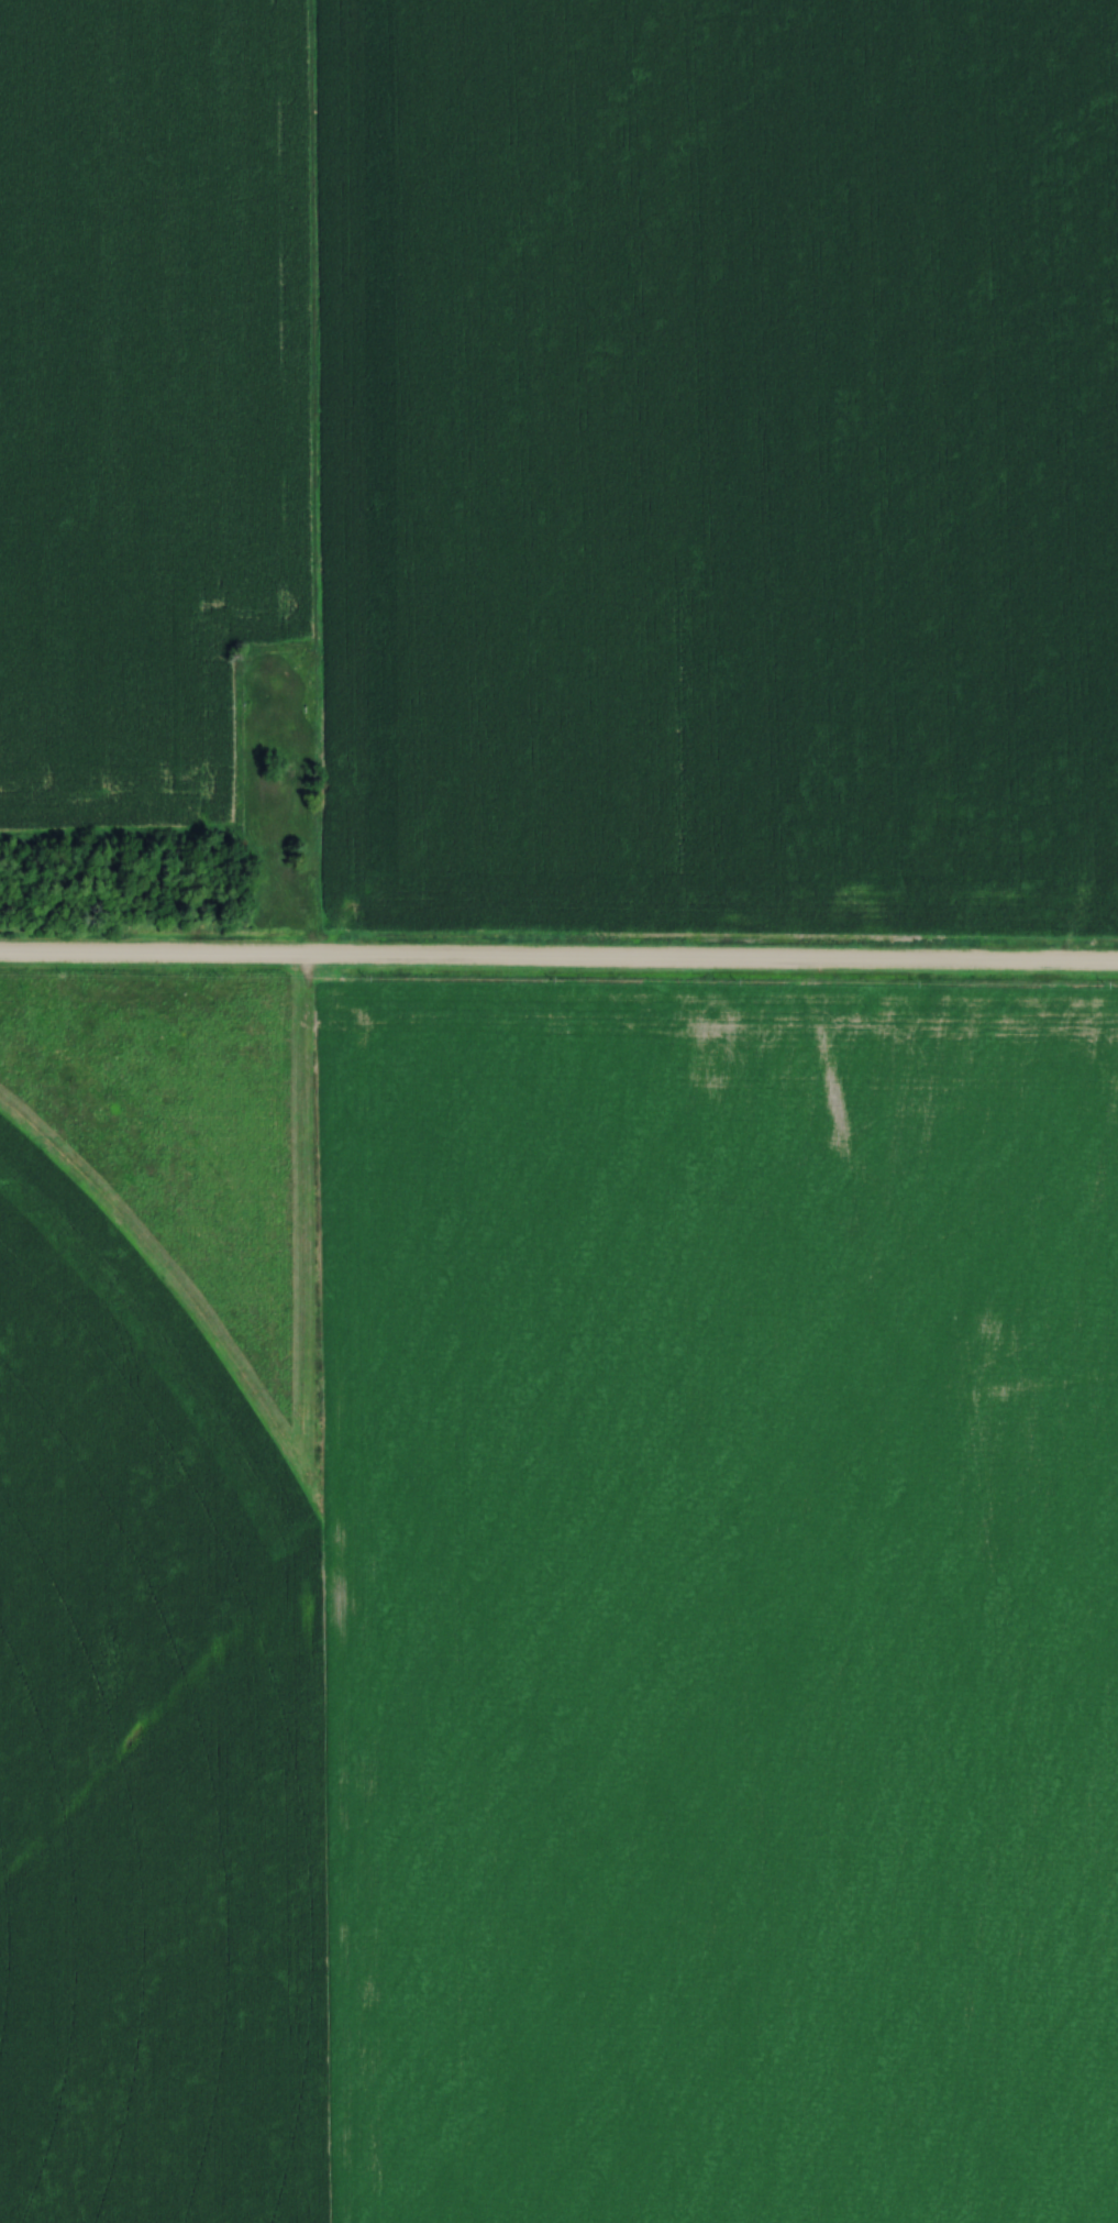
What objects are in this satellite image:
road: (558, 961)

